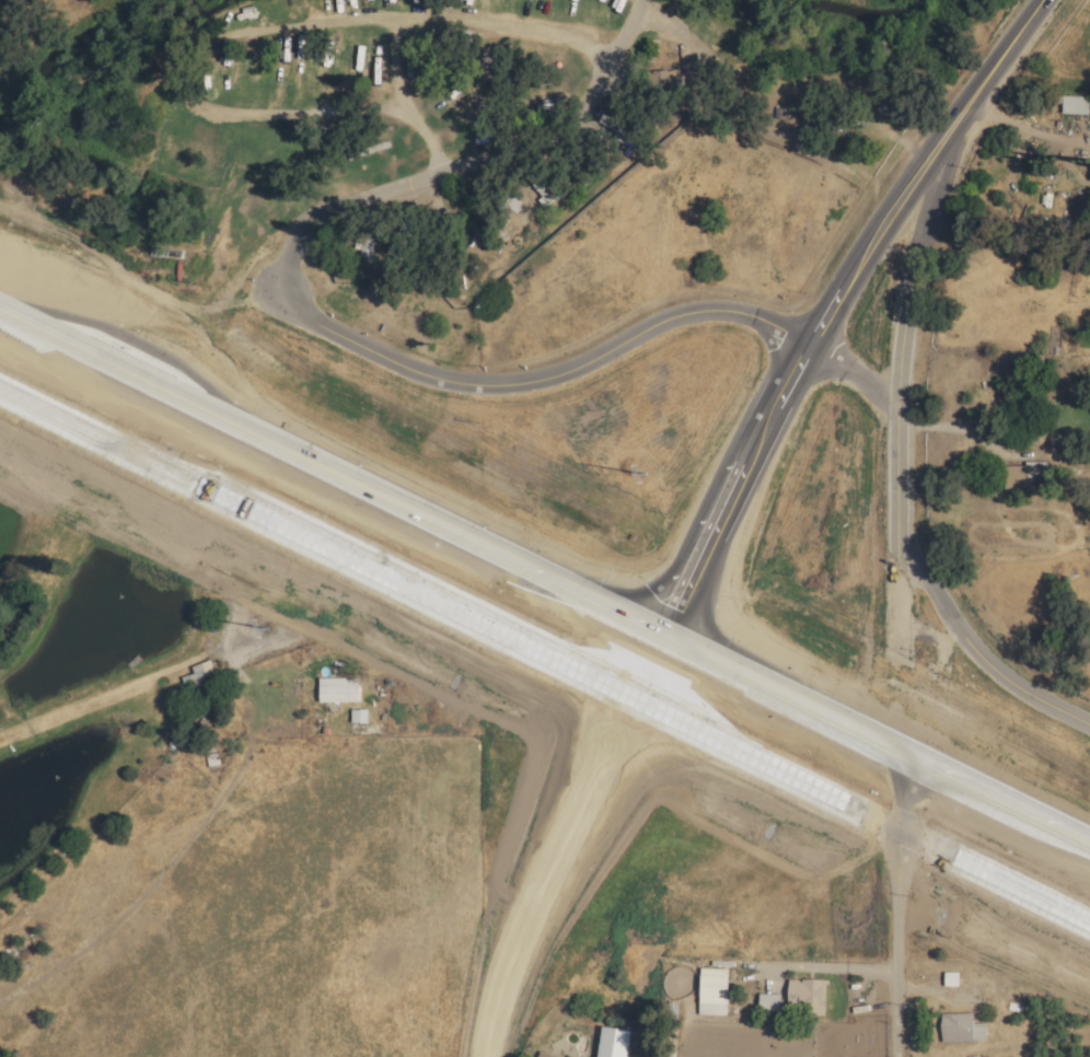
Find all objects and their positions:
road: (436, 18)
road: (623, 33)
road: (1005, 60)
building: (477, 62)
crop: (1065, 68)
building: (1071, 105)
road: (1030, 129)
building: (544, 194)
building: (1004, 206)
road: (880, 232)
building: (405, 239)
building: (363, 242)
road: (538, 388)
building: (1023, 476)
power tower: (510, 530)
road: (915, 555)
road: (544, 577)
road: (545, 652)
building: (197, 674)
building: (336, 690)
road: (637, 696)
building: (357, 717)
crop: (269, 918)
road: (833, 968)
building: (949, 979)
building: (710, 991)
building: (805, 996)
road: (896, 997)
building: (767, 1002)
building: (959, 1029)
building: (611, 1043)
building: (542, 1055)

